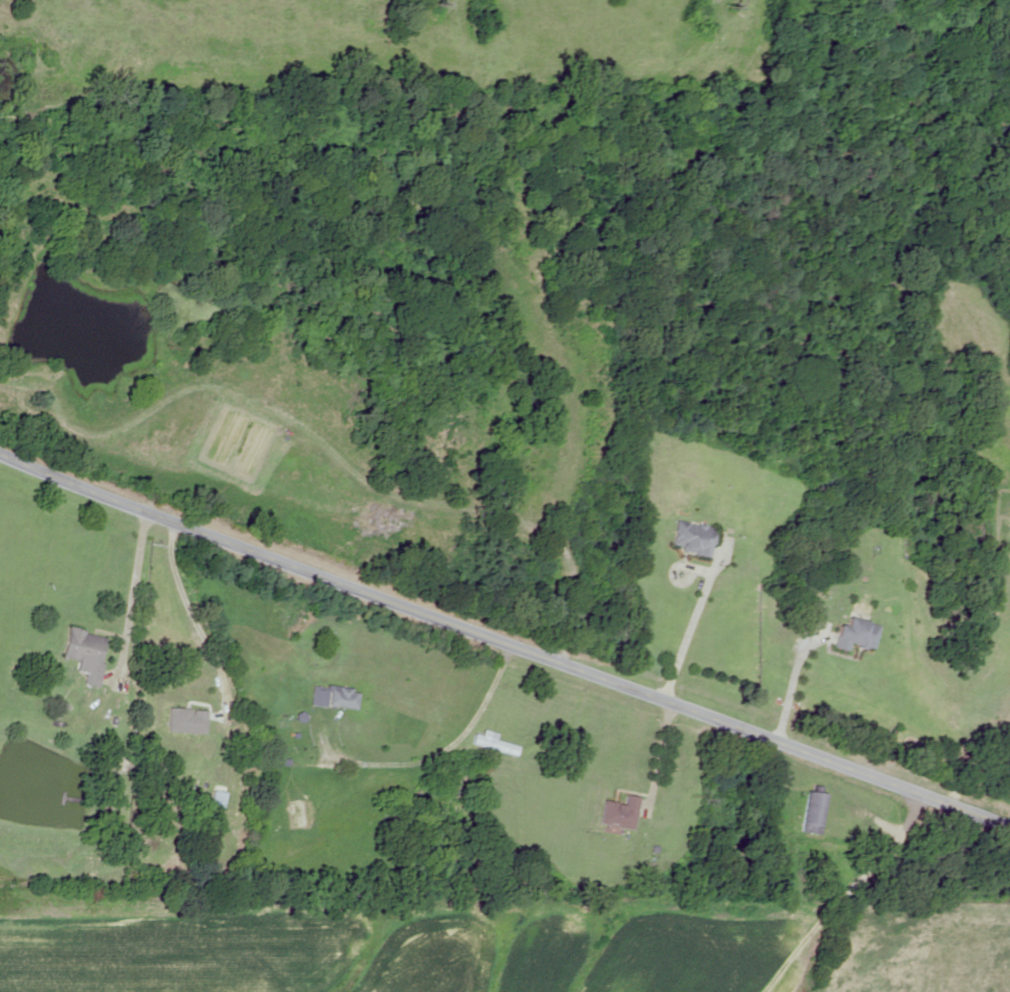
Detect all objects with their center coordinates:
building: (688, 538)
building: (853, 635)
road: (503, 642)
building: (84, 652)
building: (342, 698)
building: (492, 743)
building: (227, 800)
building: (618, 813)
building: (810, 813)

